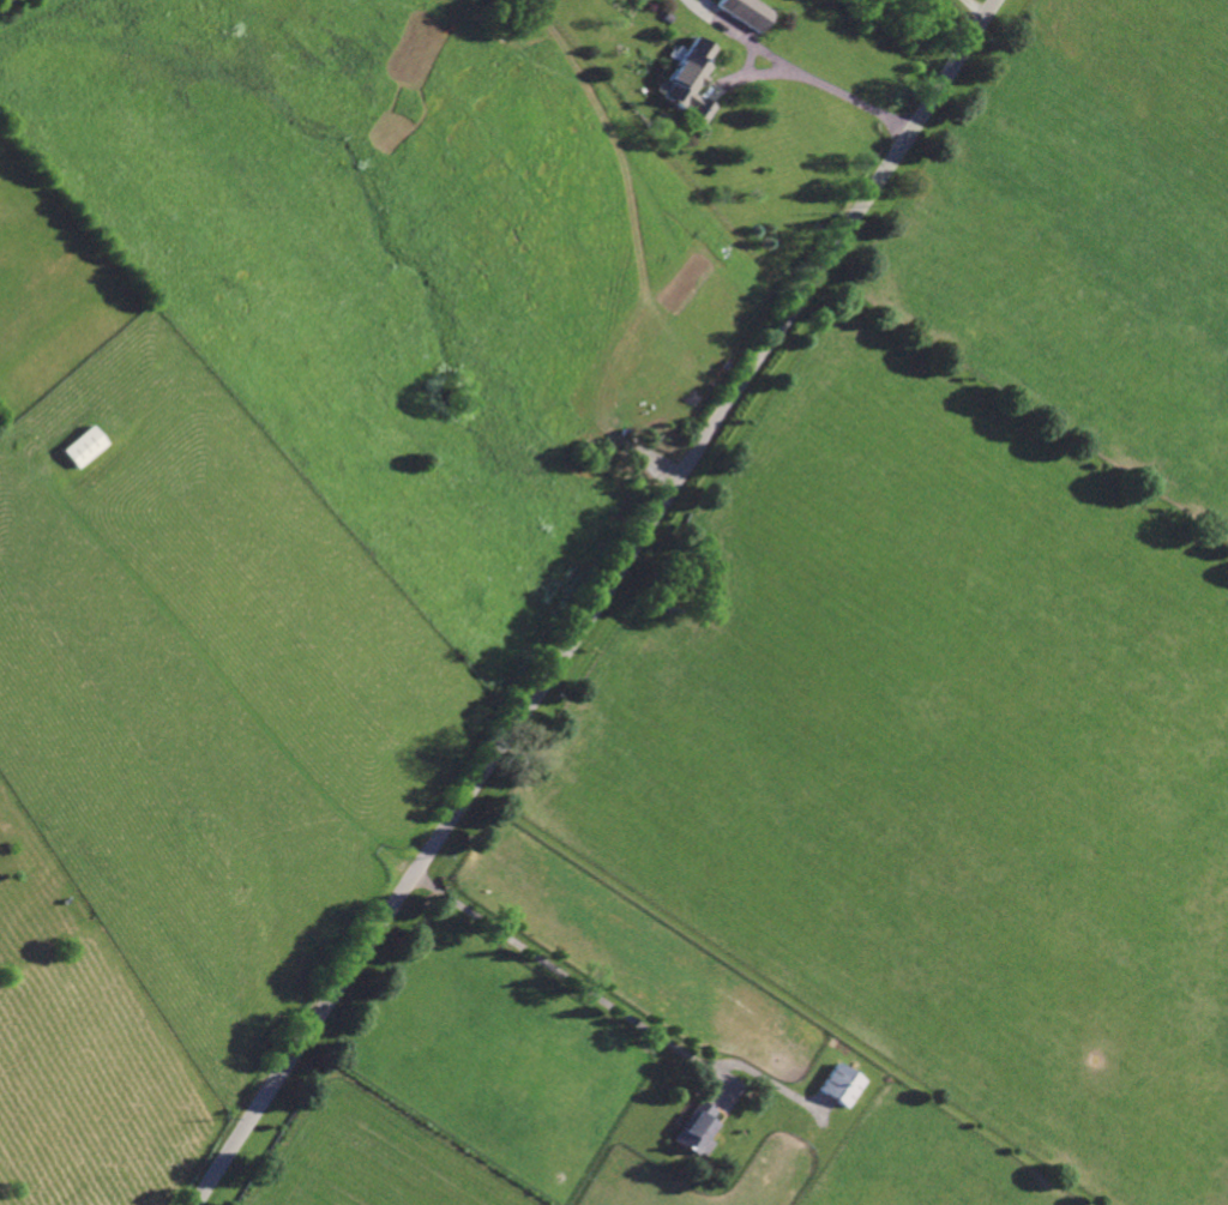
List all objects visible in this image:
road: (975, 8)
building: (745, 12)
building: (667, 16)
road: (722, 24)
road: (753, 72)
building: (688, 78)
road: (843, 94)
building: (80, 446)
road: (597, 603)
road: (561, 974)
building: (836, 1084)
building: (694, 1129)

